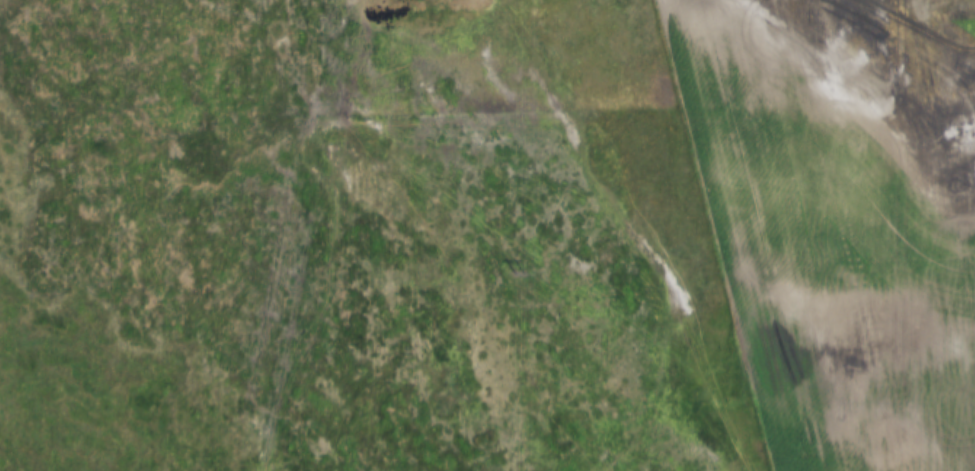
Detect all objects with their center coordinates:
power tower: (518, 273)

